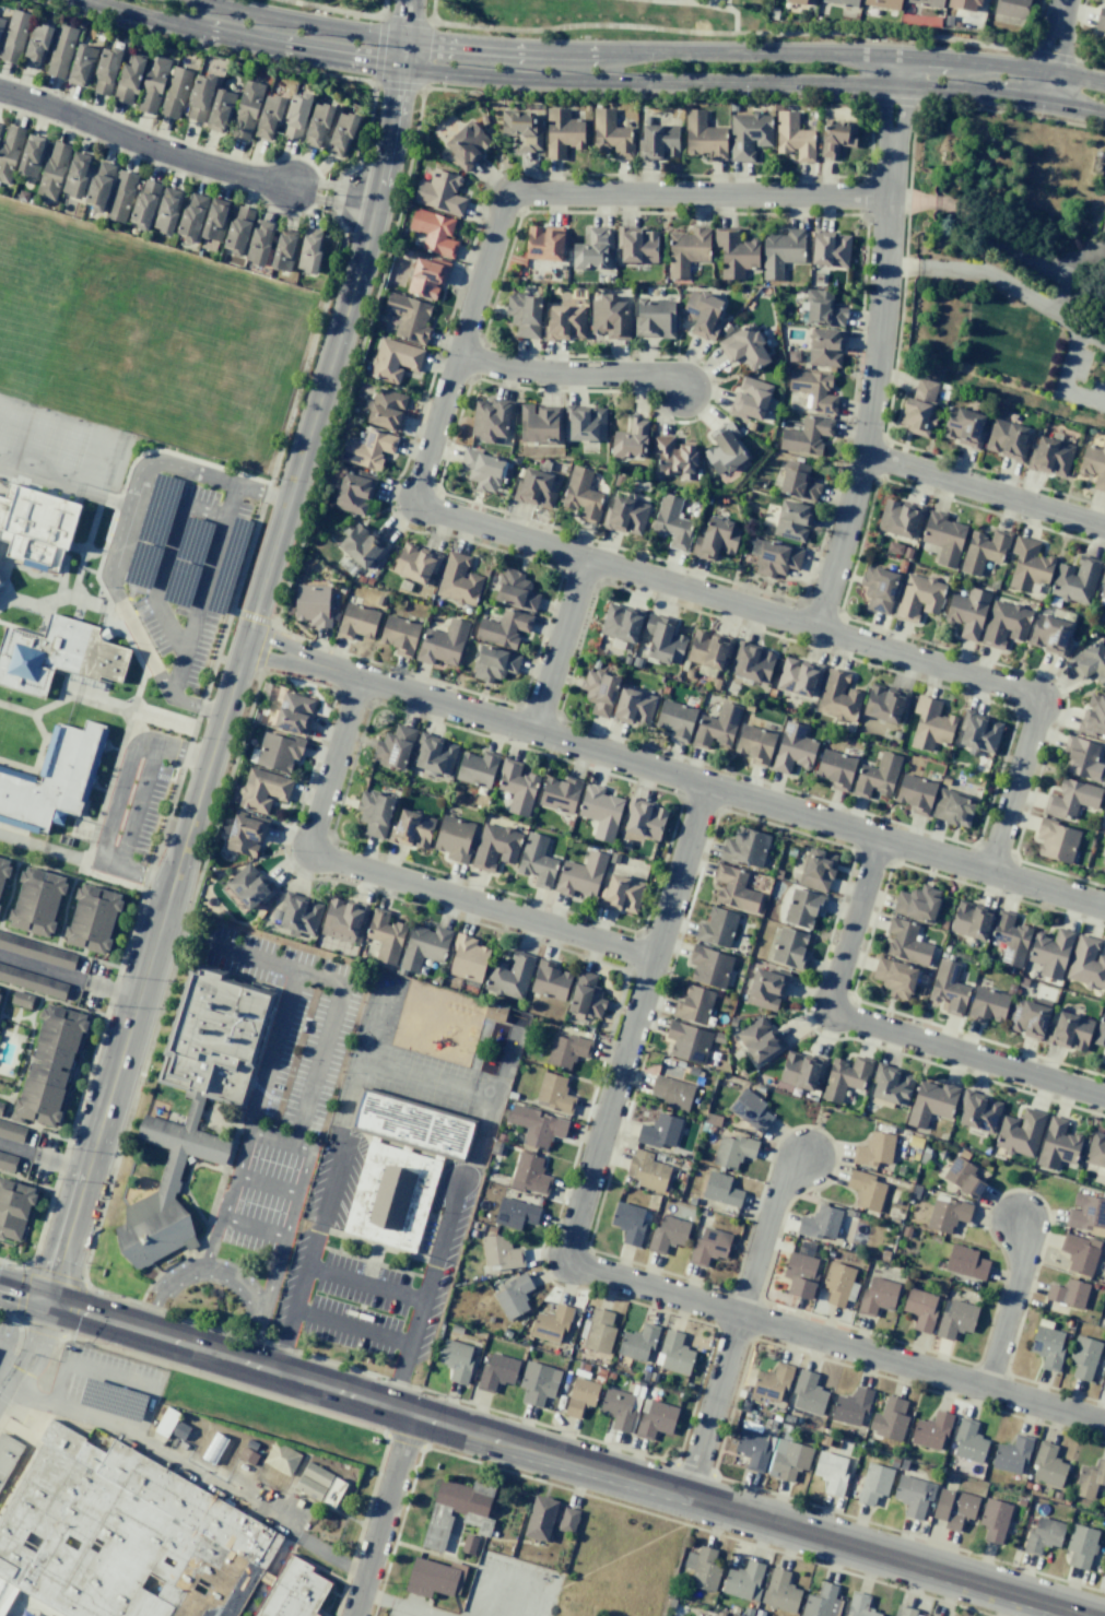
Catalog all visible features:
road: (680, 1)
building: (802, 1)
building: (843, 2)
building: (927, 2)
building: (1103, 2)
building: (883, 3)
road: (726, 4)
building: (964, 4)
building: (1011, 8)
road: (340, 10)
road: (122, 12)
road: (381, 15)
park: (606, 19)
building: (1101, 22)
building: (1, 23)
road: (297, 23)
road: (632, 25)
road: (904, 32)
building: (14, 36)
building: (35, 45)
road: (282, 49)
road: (378, 49)
road: (528, 49)
building: (60, 50)
road: (1054, 50)
road: (774, 54)
road: (937, 60)
building: (80, 64)
road: (1000, 67)
building: (105, 70)
road: (1062, 75)
building: (128, 76)
building: (152, 82)
road: (647, 82)
building: (175, 91)
road: (968, 91)
building: (199, 96)
road: (1074, 107)
building: (246, 108)
building: (219, 109)
road: (999, 111)
building: (295, 115)
building: (268, 116)
building: (317, 123)
road: (134, 125)
building: (520, 129)
building: (562, 131)
building: (340, 133)
building: (610, 134)
building: (748, 134)
building: (703, 135)
building: (792, 135)
building: (836, 138)
building: (656, 141)
road: (142, 144)
building: (466, 144)
building: (9, 151)
building: (30, 155)
road: (292, 155)
road: (133, 156)
building: (1096, 167)
building: (51, 170)
road: (360, 174)
building: (75, 175)
building: (98, 186)
road: (291, 186)
building: (439, 192)
road: (541, 193)
building: (119, 196)
road: (365, 200)
building: (143, 203)
road: (309, 207)
building: (166, 211)
building: (191, 216)
road: (348, 222)
building: (213, 223)
building: (237, 229)
building: (433, 231)
road: (1000, 241)
building: (258, 243)
building: (543, 244)
building: (637, 246)
building: (592, 249)
building: (283, 250)
building: (308, 250)
building: (830, 250)
building: (686, 251)
building: (780, 251)
building: (734, 252)
park: (13, 257)
building: (426, 276)
road: (1001, 281)
road: (1085, 297)
road: (1058, 298)
building: (823, 309)
building: (701, 314)
building: (524, 315)
building: (408, 317)
building: (609, 317)
building: (655, 317)
building: (564, 322)
park: (153, 342)
road: (878, 344)
building: (825, 346)
building: (744, 347)
building: (393, 359)
road: (572, 376)
road: (1060, 382)
building: (813, 390)
building: (750, 399)
building: (918, 408)
building: (385, 409)
building: (491, 421)
park: (9, 423)
building: (586, 424)
building: (538, 425)
building: (964, 426)
building: (806, 435)
park: (35, 436)
building: (631, 439)
building: (1007, 439)
park: (68, 446)
building: (367, 449)
building: (724, 449)
building: (1049, 456)
building: (673, 457)
building: (1094, 464)
building: (481, 470)
building: (797, 482)
road: (62, 485)
building: (536, 488)
road: (984, 488)
road: (260, 492)
building: (353, 493)
building: (581, 495)
building: (625, 516)
building: (898, 518)
building: (792, 520)
building: (671, 522)
road: (132, 526)
building: (36, 527)
building: (943, 538)
building: (716, 539)
building: (362, 546)
road: (86, 547)
building: (984, 551)
road: (86, 552)
road: (102, 557)
road: (164, 557)
building: (773, 557)
building: (414, 563)
road: (107, 565)
building: (1028, 565)
road: (89, 570)
road: (39, 574)
building: (458, 579)
building: (0, 580)
building: (1075, 580)
road: (8, 586)
building: (1103, 588)
building: (878, 589)
road: (201, 590)
building: (515, 590)
building: (918, 597)
building: (311, 604)
road: (79, 611)
building: (967, 612)
building: (356, 622)
building: (621, 623)
building: (1004, 624)
road: (808, 625)
building: (503, 628)
building: (399, 634)
building: (1049, 635)
building: (662, 640)
building: (442, 644)
road: (559, 645)
building: (707, 649)
road: (240, 653)
building: (57, 656)
building: (1090, 662)
building: (493, 663)
building: (751, 663)
building: (798, 676)
building: (599, 691)
building: (837, 697)
road: (134, 701)
building: (884, 704)
building: (633, 706)
road: (16, 709)
building: (293, 712)
building: (1093, 716)
building: (675, 719)
building: (930, 724)
building: (717, 727)
building: (978, 732)
building: (755, 744)
road: (108, 746)
building: (393, 747)
building: (792, 748)
building: (279, 751)
building: (435, 755)
building: (1082, 758)
building: (477, 768)
building: (835, 769)
road: (674, 774)
building: (877, 776)
building: (51, 780)
road: (109, 787)
building: (516, 787)
road: (96, 788)
building: (262, 790)
building: (560, 793)
building: (916, 793)
building: (1071, 799)
road: (116, 802)
road: (137, 807)
building: (953, 809)
building: (374, 812)
building: (600, 812)
building: (644, 819)
building: (412, 829)
building: (245, 835)
building: (454, 838)
building: (1056, 841)
building: (494, 847)
building: (745, 847)
road: (48, 849)
building: (1104, 857)
building: (537, 860)
building: (818, 870)
road: (61, 872)
building: (3, 874)
building: (580, 875)
road: (400, 878)
building: (248, 886)
building: (733, 888)
road: (9, 892)
building: (621, 894)
building: (36, 901)
building: (917, 904)
building: (802, 907)
road: (64, 911)
building: (298, 913)
building: (343, 918)
building: (93, 919)
building: (971, 920)
building: (717, 928)
building: (385, 935)
building: (1010, 939)
building: (906, 942)
building: (423, 946)
road: (59, 948)
building: (789, 948)
building: (36, 951)
building: (1050, 953)
road: (250, 956)
building: (467, 958)
building: (1086, 963)
building: (709, 966)
building: (509, 975)
road: (68, 976)
building: (894, 977)
building: (549, 980)
building: (33, 982)
building: (765, 988)
building: (586, 995)
building: (22, 1000)
road: (3, 1002)
building: (987, 1004)
building: (693, 1005)
road: (37, 1010)
building: (505, 1015)
building: (1028, 1017)
road: (16, 1019)
road: (637, 1021)
building: (1101, 1027)
road: (882, 1028)
building: (1069, 1031)
building: (215, 1036)
building: (760, 1040)
building: (687, 1041)
road: (24, 1049)
building: (567, 1050)
road: (79, 1054)
road: (277, 1054)
building: (49, 1065)
road: (318, 1067)
building: (800, 1071)
building: (845, 1076)
building: (891, 1085)
road: (81, 1089)
building: (553, 1092)
building: (672, 1092)
building: (930, 1102)
building: (1, 1108)
road: (7, 1109)
building: (750, 1109)
building: (977, 1112)
building: (413, 1124)
building: (537, 1125)
building: (659, 1131)
building: (12, 1132)
building: (1020, 1132)
building: (1057, 1144)
building: (874, 1149)
building: (1095, 1149)
road: (291, 1151)
building: (732, 1151)
road: (43, 1158)
building: (8, 1163)
building: (647, 1170)
building: (529, 1173)
building: (963, 1177)
road: (26, 1181)
road: (267, 1183)
building: (166, 1188)
building: (720, 1189)
building: (866, 1190)
building: (391, 1196)
building: (13, 1208)
building: (515, 1213)
building: (947, 1214)
building: (1086, 1214)
building: (628, 1223)
building: (820, 1223)
road: (254, 1228)
building: (667, 1234)
road: (9, 1245)
building: (708, 1247)
building: (499, 1252)
building: (1079, 1253)
road: (309, 1254)
building: (965, 1262)
road: (24, 1265)
road: (55, 1274)
building: (800, 1275)
road: (365, 1283)
building: (838, 1284)
road: (164, 1289)
road: (426, 1291)
building: (1068, 1293)
building: (513, 1296)
building: (877, 1296)
traffic signals: (47, 1302)
road: (252, 1305)
road: (1009, 1305)
building: (920, 1309)
road: (8, 1317)
building: (955, 1319)
road: (739, 1322)
building: (551, 1323)
road: (354, 1325)
road: (38, 1326)
building: (599, 1331)
building: (637, 1342)
parking lot: (5, 1343)
road: (836, 1343)
road: (1, 1345)
building: (1047, 1347)
road: (204, 1350)
building: (674, 1354)
road: (32, 1355)
building: (1083, 1357)
building: (456, 1359)
road: (89, 1369)
building: (496, 1372)
building: (772, 1382)
building: (538, 1383)
parking lot: (103, 1390)
building: (808, 1393)
building: (580, 1396)
building: (850, 1406)
building: (619, 1408)
road: (314, 1411)
building: (655, 1419)
building: (889, 1419)
building: (165, 1420)
building: (179, 1430)
building: (930, 1430)
building: (968, 1441)
building: (753, 1449)
building: (1011, 1454)
building: (9, 1455)
building: (247, 1455)
building: (281, 1458)
building: (788, 1460)
building: (1047, 1465)
building: (831, 1471)
road: (193, 1473)
building: (315, 1474)
building: (1090, 1479)
building: (873, 1483)
building: (308, 1487)
building: (332, 1493)
building: (913, 1495)
road: (309, 1500)
building: (953, 1508)
building: (457, 1511)
road: (748, 1514)
road: (381, 1515)
building: (540, 1518)
building: (568, 1519)
building: (994, 1519)
building: (1043, 1534)
building: (137, 1541)
building: (468, 1544)
building: (1080, 1546)
road: (279, 1553)
building: (702, 1568)
building: (433, 1577)
road: (265, 1578)
road: (508, 1578)
building: (743, 1581)
building: (780, 1591)
road: (333, 1593)
road: (251, 1599)
building: (820, 1602)
road: (396, 1604)
building: (859, 1605)
building: (904, 1611)
road: (319, 1613)
building: (931, 1615)

